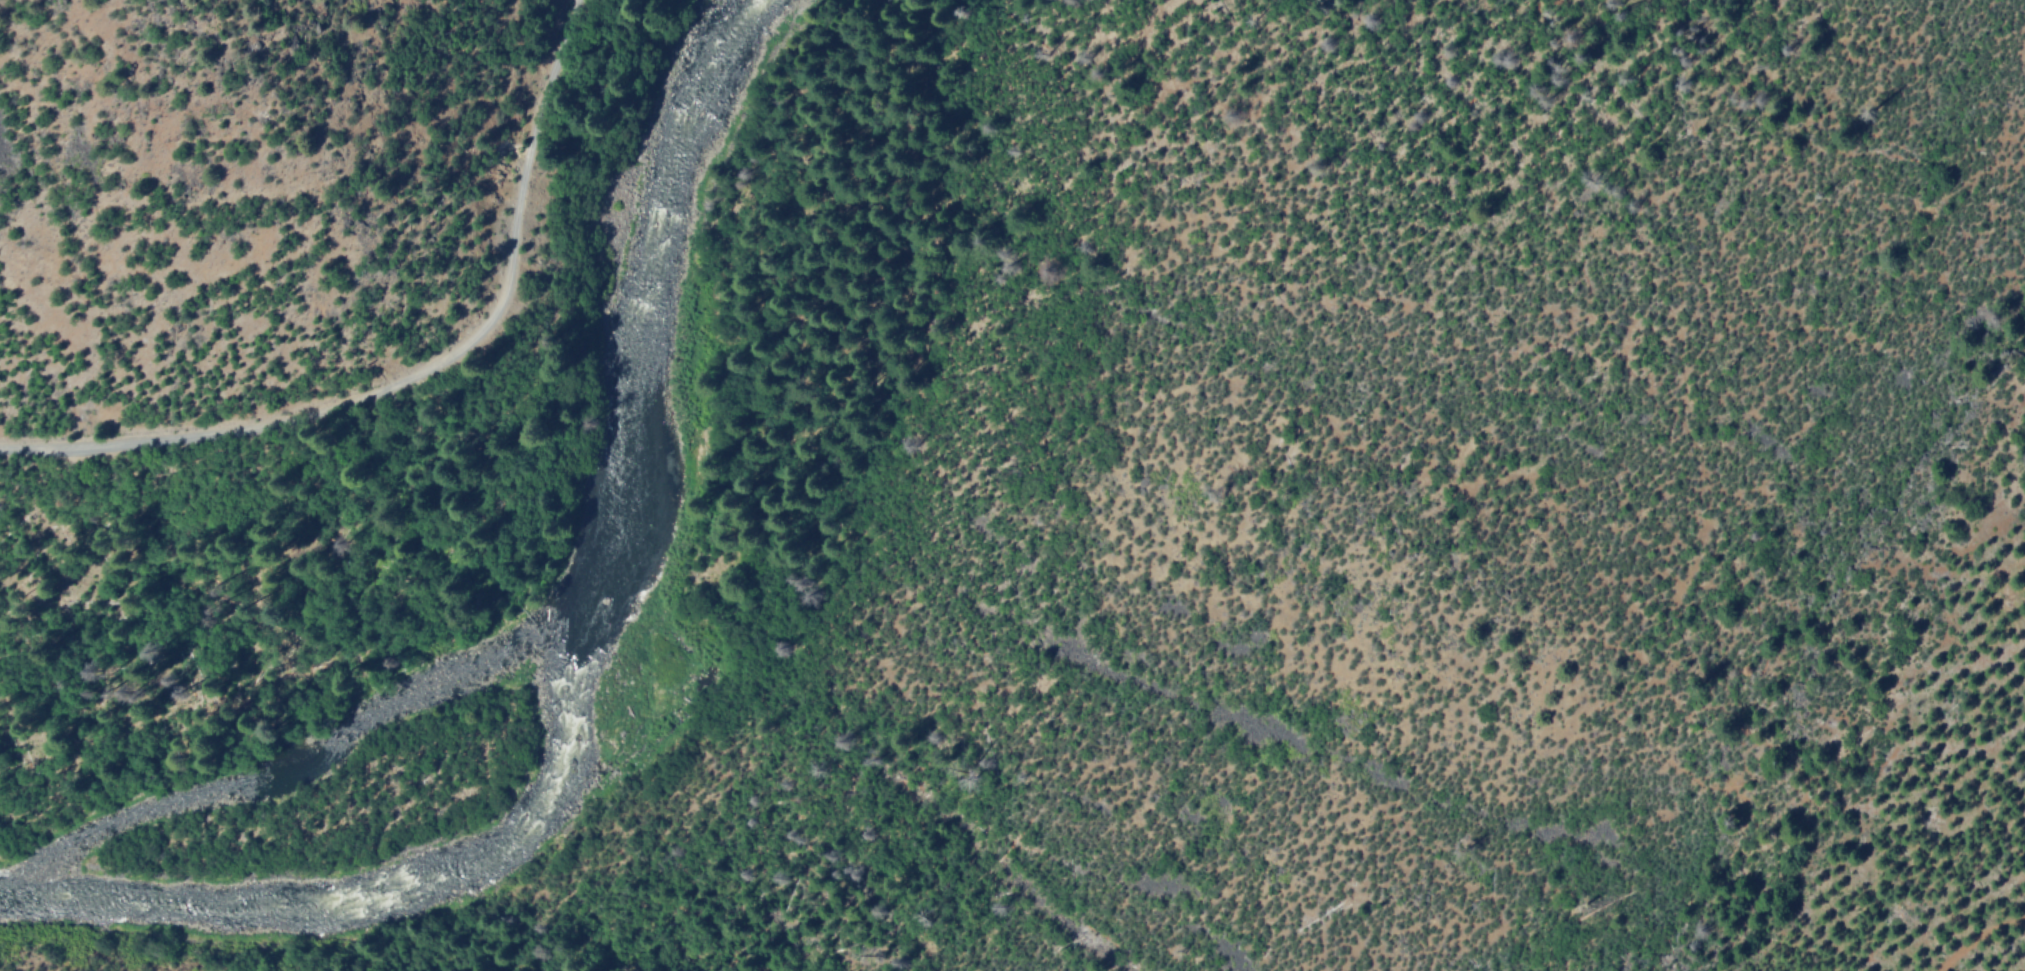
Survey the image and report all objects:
road: (414, 373)
river: (576, 676)

